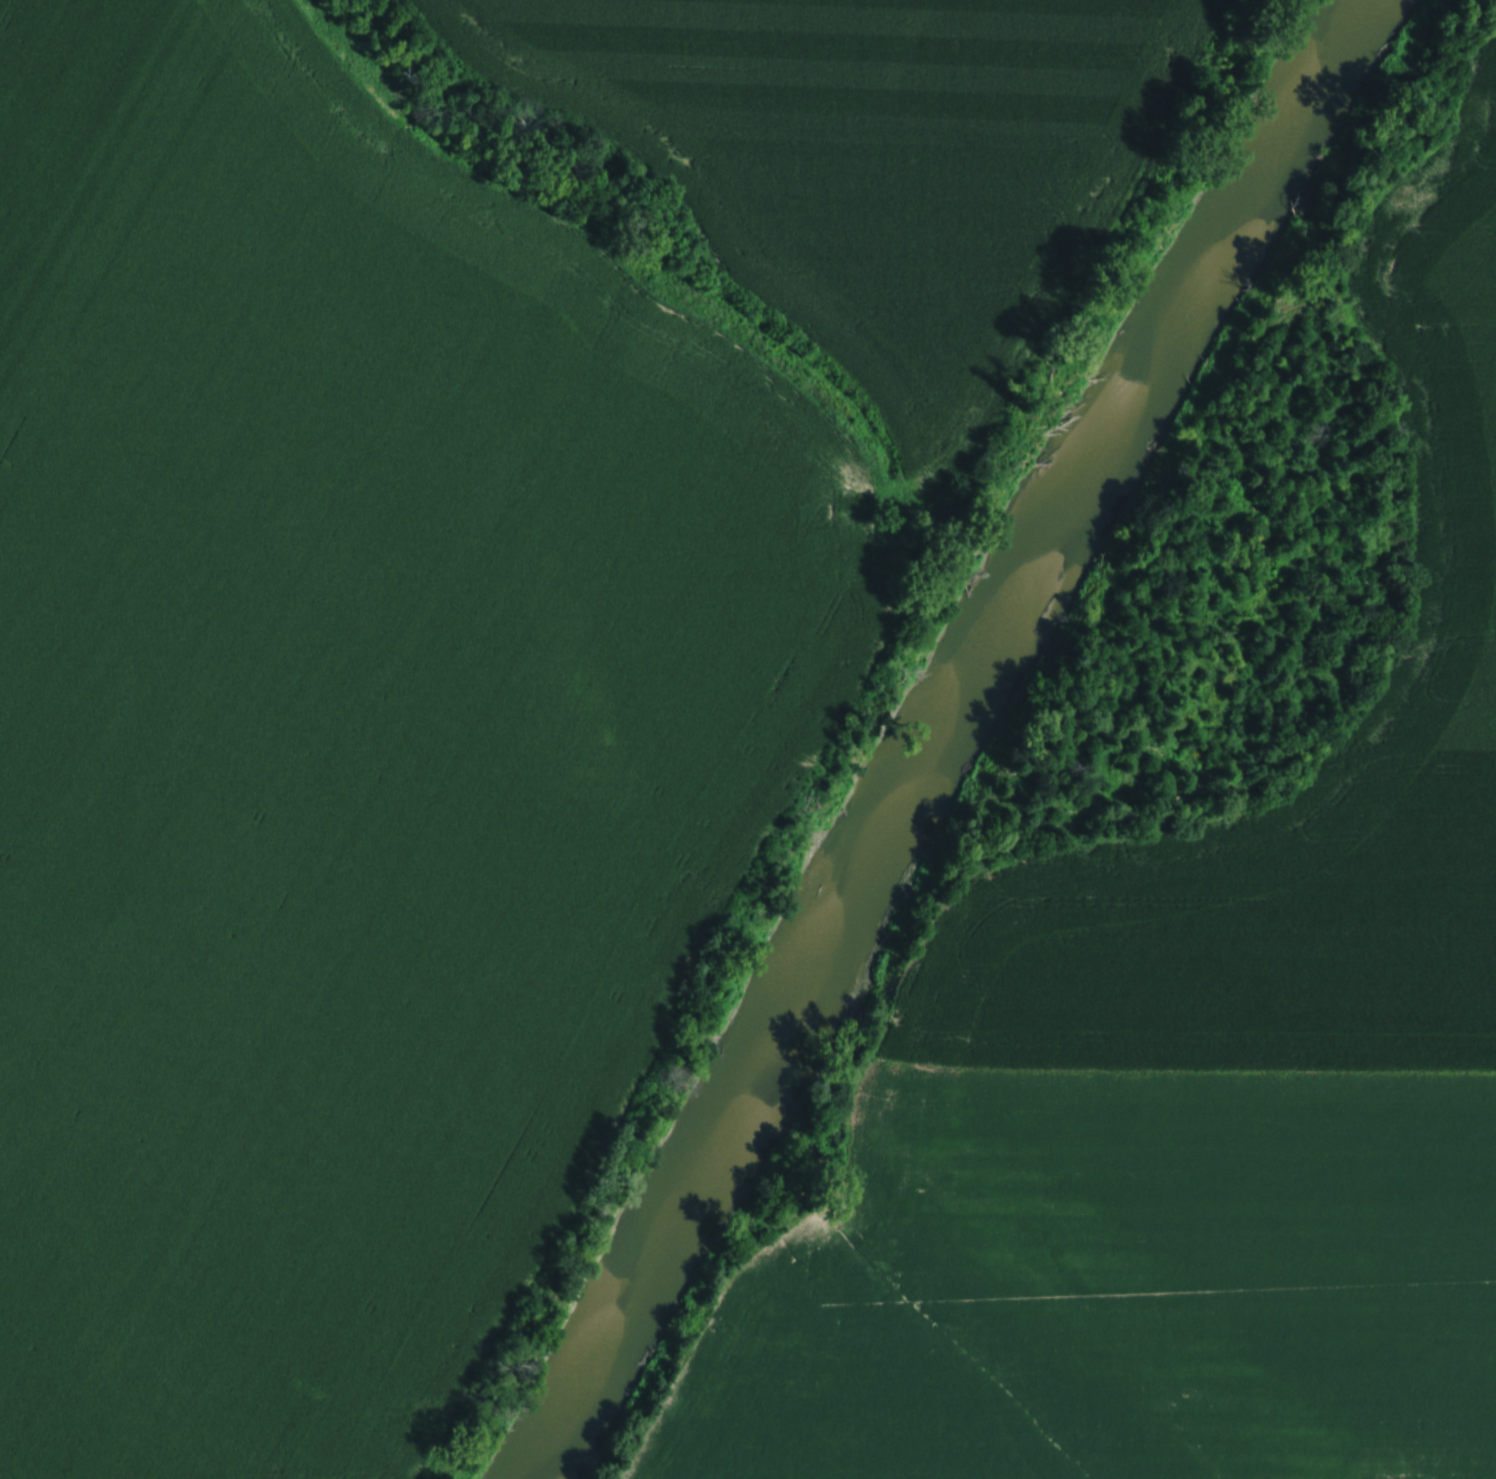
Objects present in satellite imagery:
river: (938, 736)

